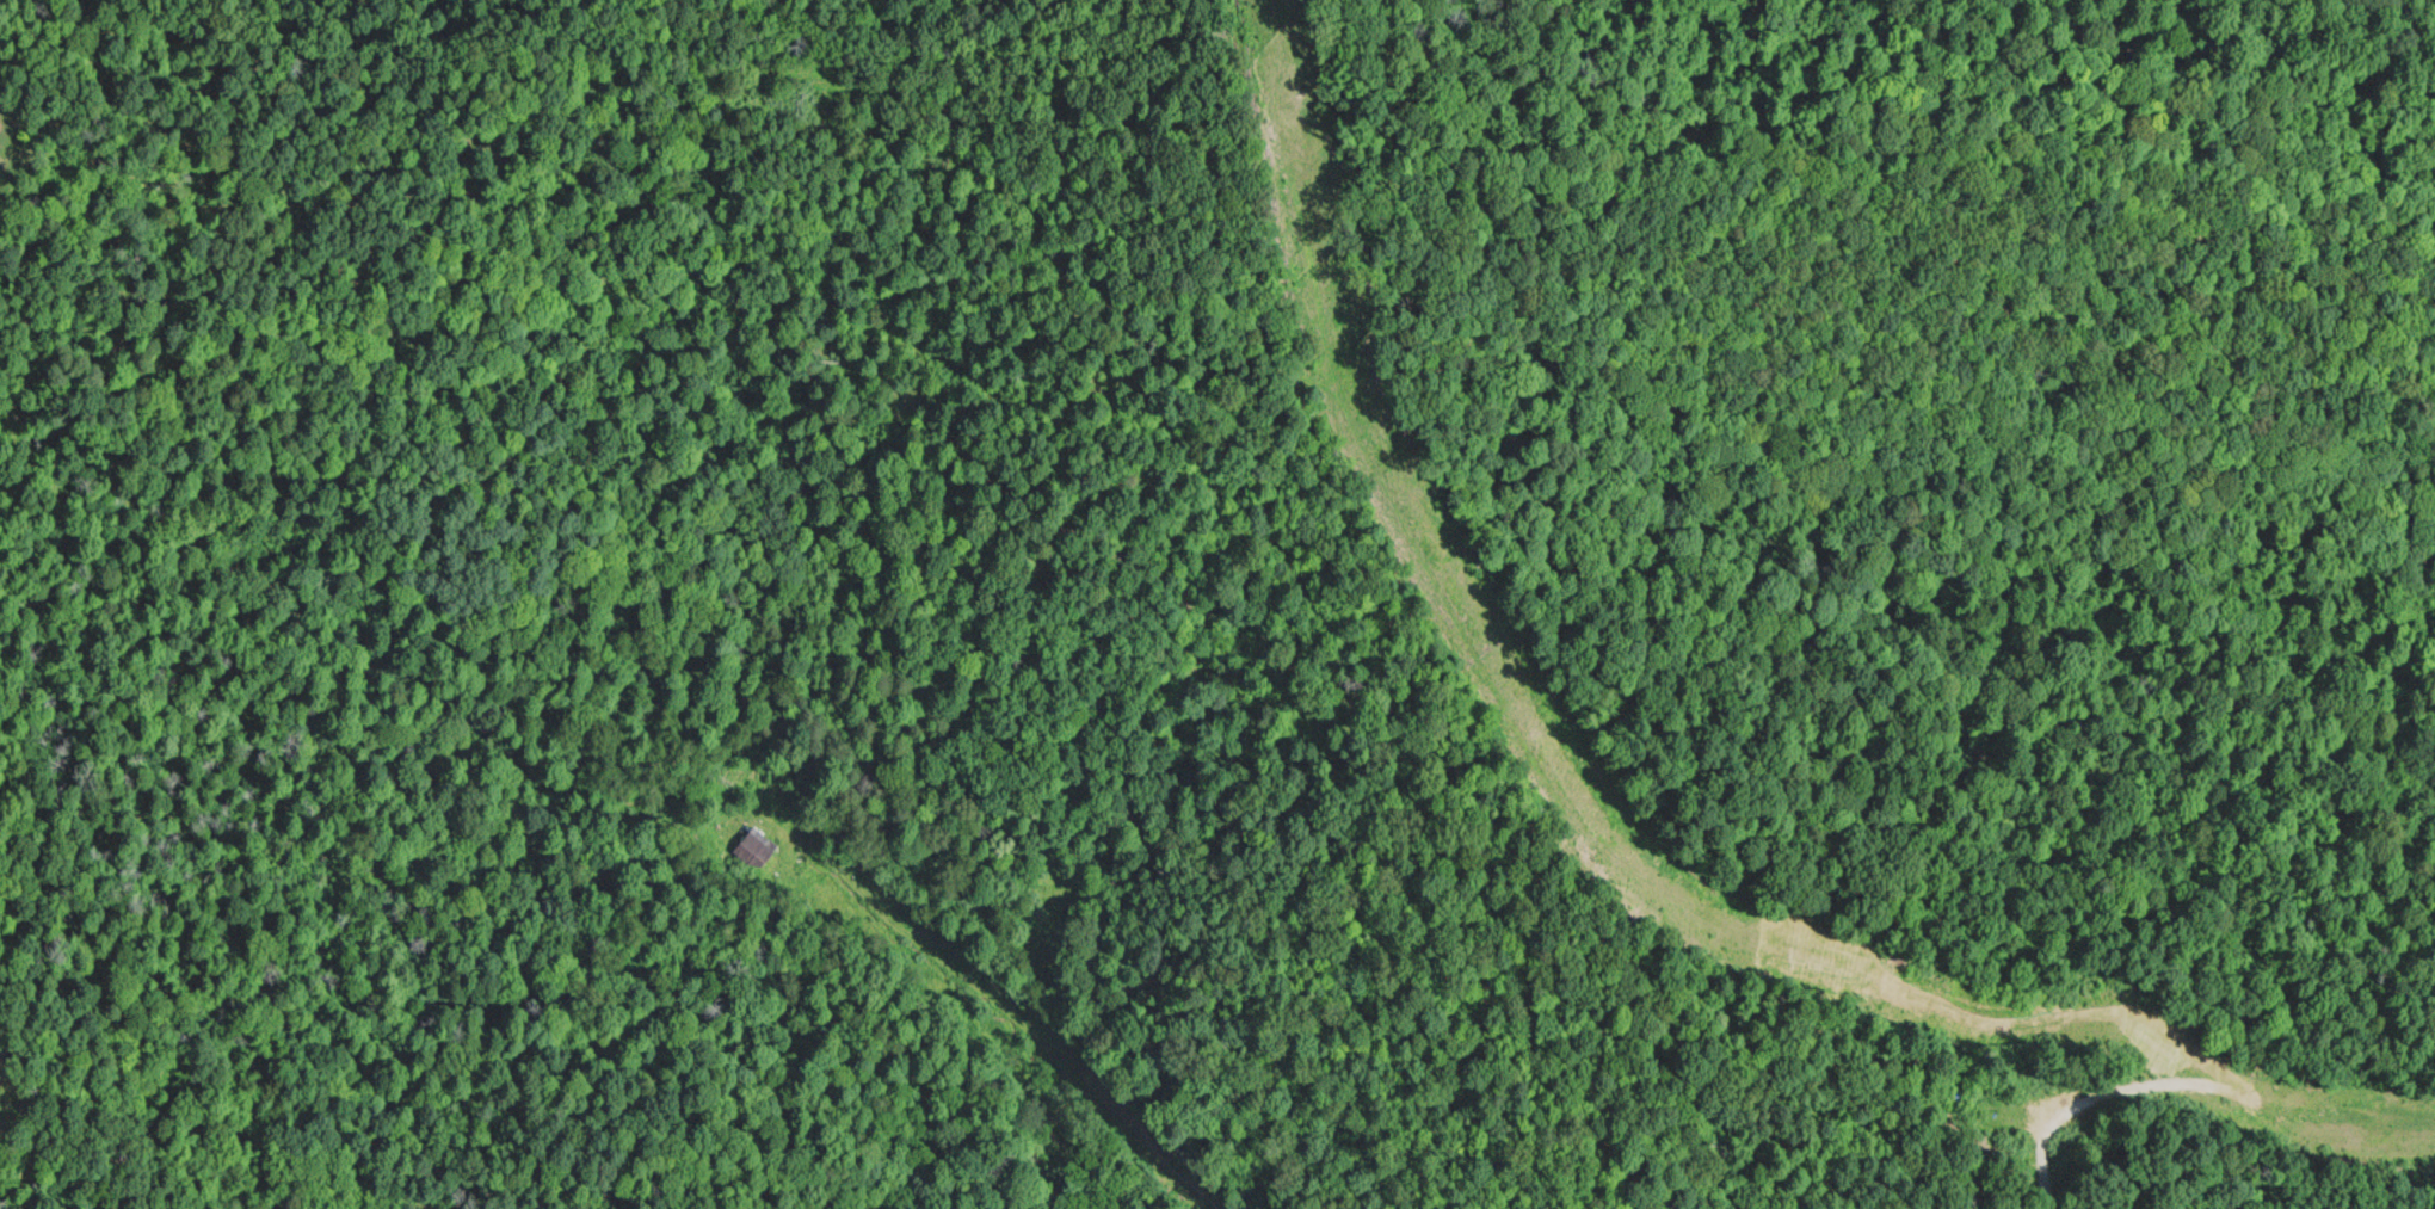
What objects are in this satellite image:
road: (1019, 963)
road: (1851, 1203)

